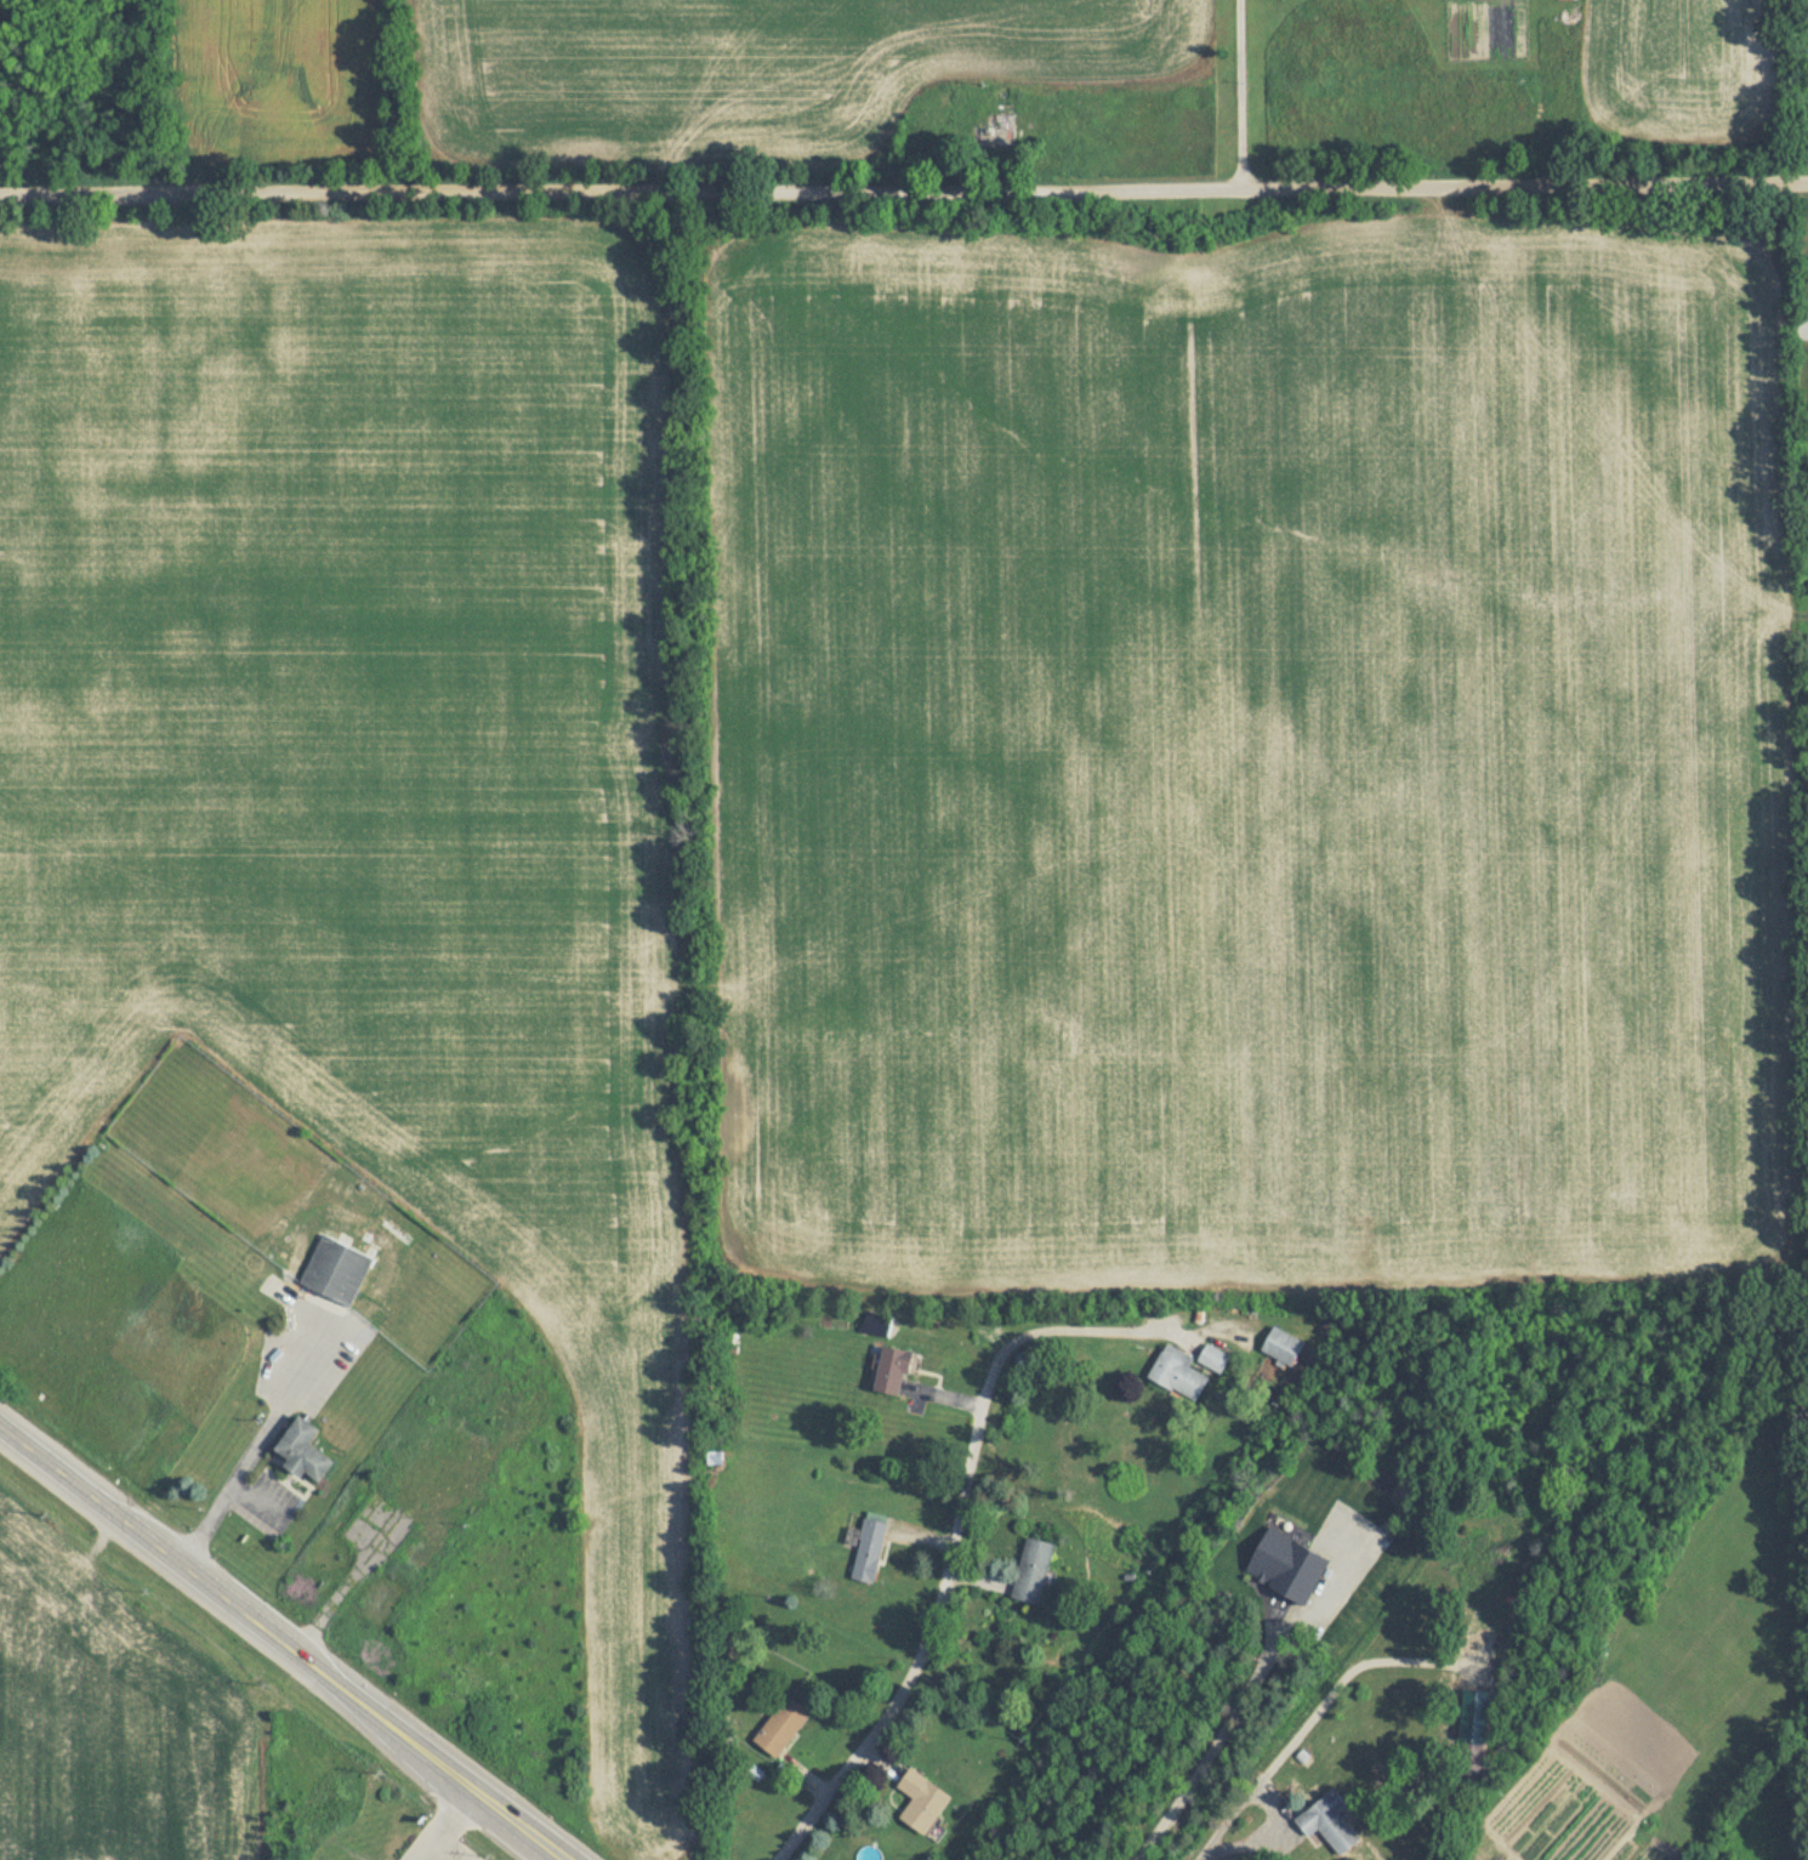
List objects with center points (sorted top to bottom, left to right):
road: (1240, 95)
building: (1000, 127)
road: (904, 190)
building: (130, 1134)
building: (337, 1270)
road: (1115, 1329)
building: (1283, 1346)
building: (893, 1370)
building: (1178, 1371)
building: (303, 1450)
building: (400, 1455)
building: (449, 1456)
road: (243, 1457)
building: (425, 1547)
building: (869, 1547)
building: (1033, 1569)
road: (929, 1632)
road: (282, 1639)
building: (783, 1724)
road: (1319, 1724)
road: (1203, 1751)
building: (922, 1801)
building: (1329, 1821)
road: (453, 1826)
road: (456, 1849)

